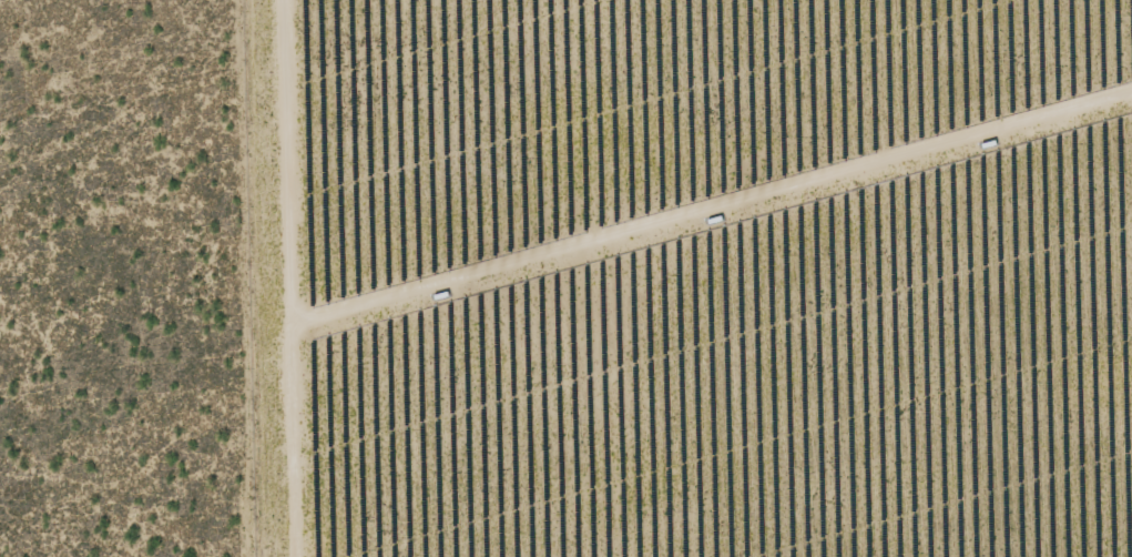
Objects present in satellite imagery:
solar farm: (691, 277)

